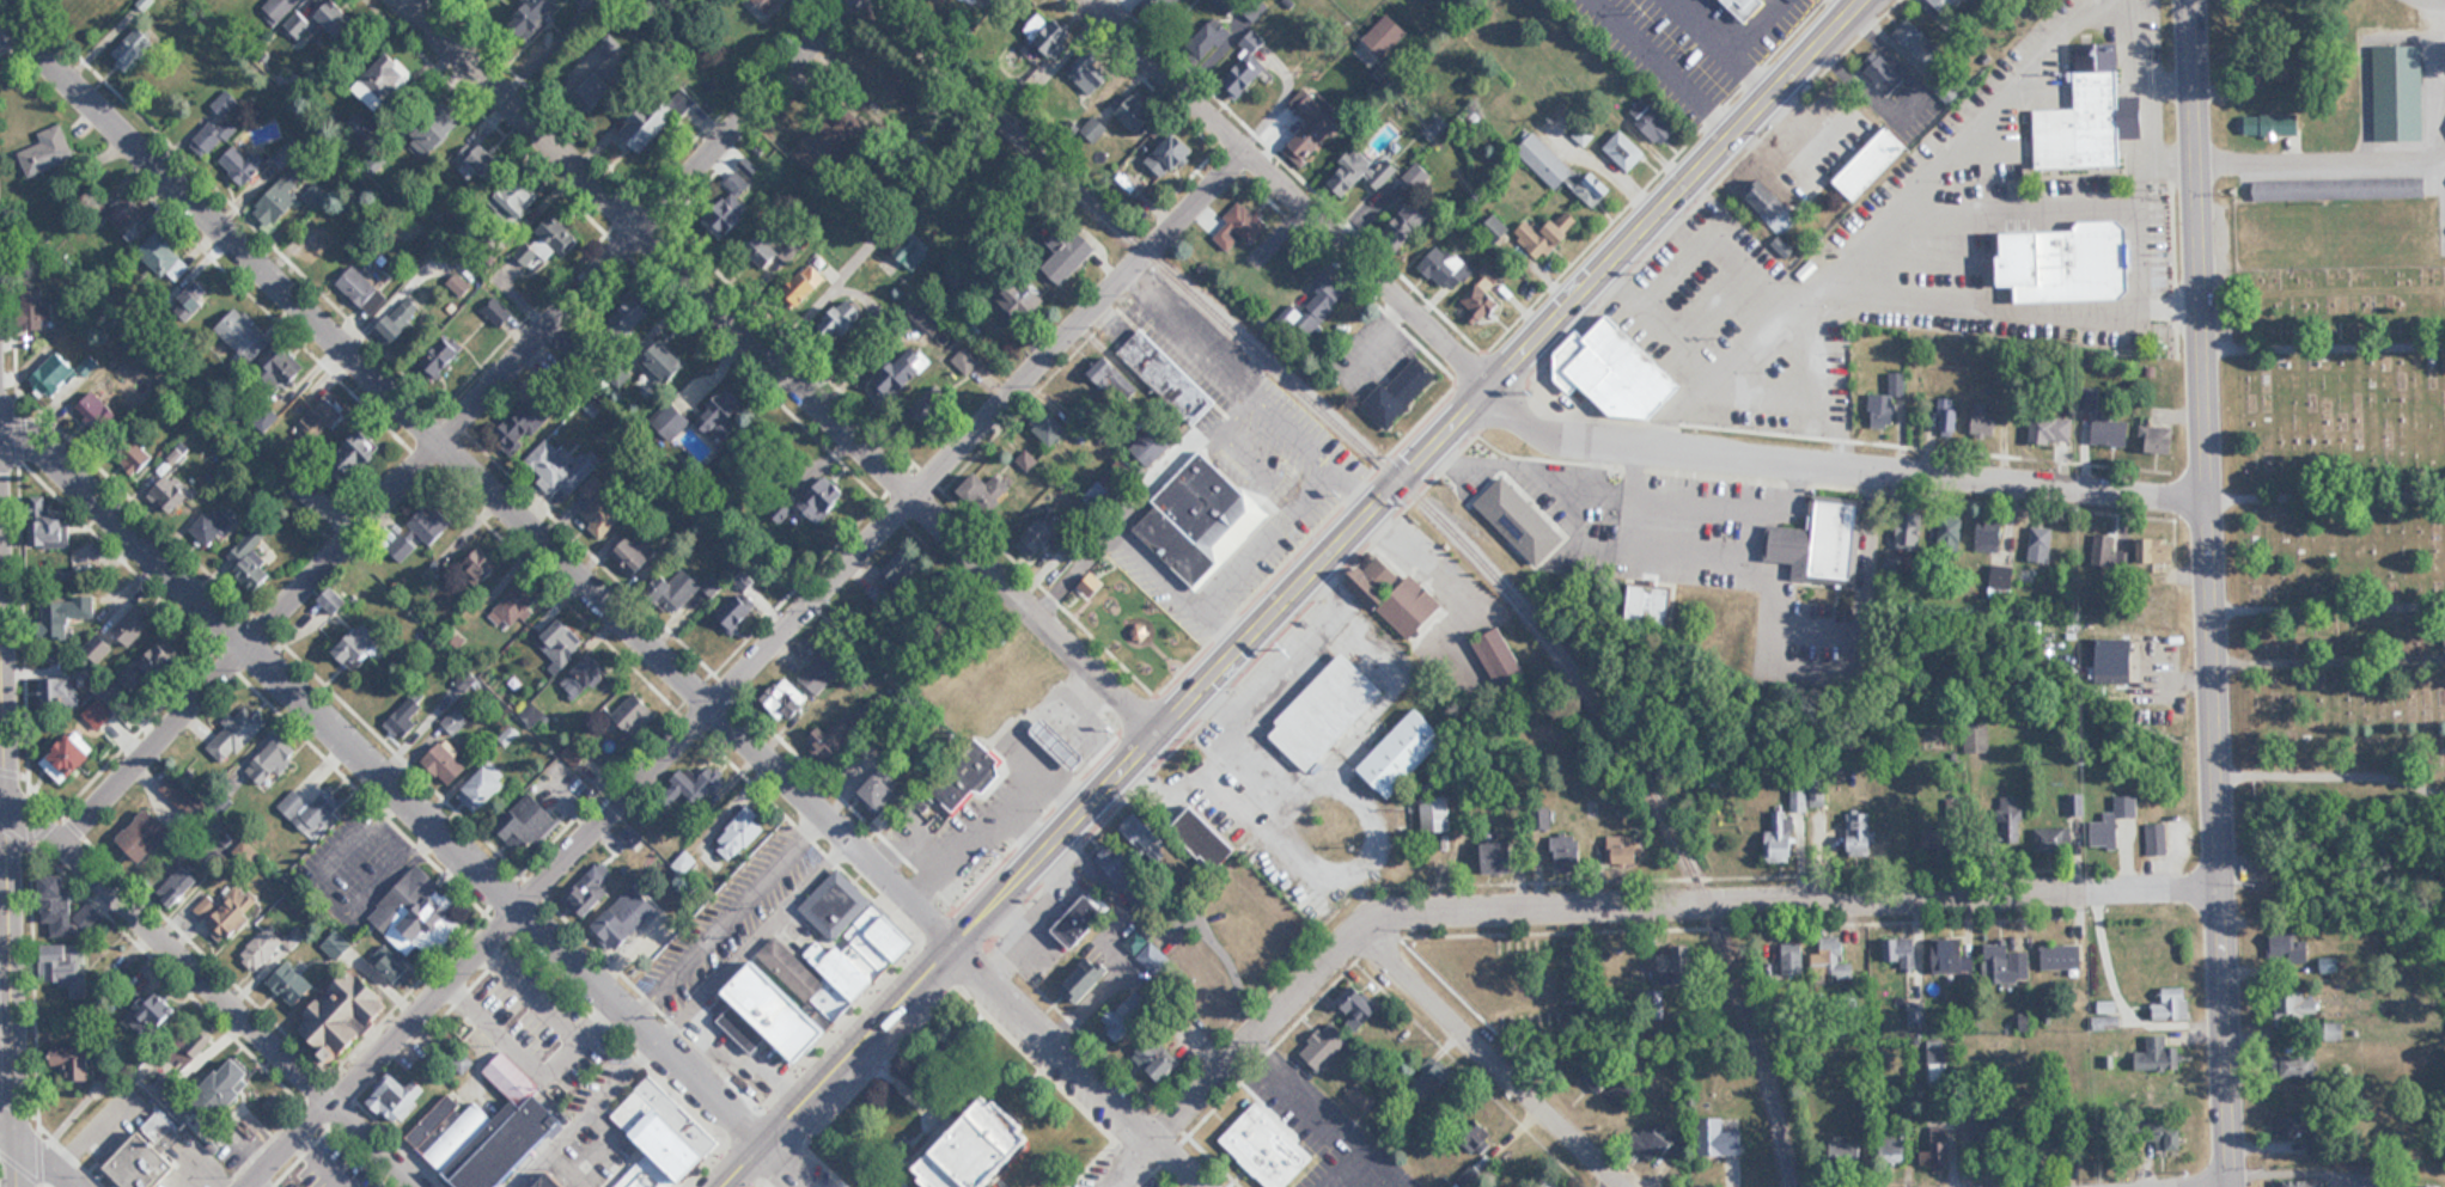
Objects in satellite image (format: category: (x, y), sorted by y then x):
building: (1724, 0)
building: (767, 4)
building: (1945, 5)
building: (1159, 6)
building: (280, 7)
building: (538, 12)
building: (337, 19)
building: (294, 23)
building: (1386, 33)
building: (1055, 36)
building: (1914, 37)
building: (1209, 41)
building: (134, 47)
building: (1249, 63)
building: (1091, 72)
building: (1886, 74)
building: (390, 75)
building: (598, 87)
building: (898, 90)
building: (1139, 112)
building: (2090, 115)
building: (1652, 121)
building: (437, 123)
building: (1311, 124)
building: (2272, 124)
building: (218, 126)
building: (647, 128)
building: (1095, 128)
building: (49, 151)
building: (1624, 151)
road: (2318, 151)
building: (1170, 154)
building: (477, 159)
building: (244, 164)
building: (1871, 165)
building: (1562, 171)
building: (1359, 175)
building: (1127, 184)
road: (1297, 189)
building: (2340, 189)
road: (1664, 192)
building: (522, 196)
building: (1767, 201)
building: (278, 203)
building: (731, 206)
building: (130, 216)
building: (1408, 222)
building: (1239, 225)
building: (559, 233)
building: (1544, 237)
building: (763, 250)
building: (910, 251)
building: (1067, 252)
building: (165, 258)
building: (2068, 263)
building: (1285, 267)
building: (1446, 267)
building: (958, 275)
building: (804, 284)
building: (362, 289)
building: (1482, 298)
road: (1922, 298)
building: (202, 299)
park: (2330, 302)
building: (1035, 304)
building: (1319, 305)
building: (37, 310)
building: (629, 310)
building: (845, 319)
building: (398, 322)
building: (243, 335)
road: (2323, 335)
building: (444, 355)
building: (285, 365)
building: (666, 365)
road: (779, 366)
building: (1616, 371)
building: (1104, 372)
building: (904, 373)
building: (50, 374)
building: (1166, 375)
building: (1402, 392)
road: (1244, 394)
building: (1886, 402)
building: (94, 411)
building: (724, 415)
building: (1949, 418)
building: (1983, 418)
building: (324, 420)
road: (452, 421)
road: (1291, 421)
building: (524, 423)
building: (2053, 428)
building: (1059, 429)
building: (2110, 430)
building: (2158, 439)
building: (1152, 445)
building: (359, 454)
building: (134, 458)
road: (1836, 465)
building: (563, 471)
building: (1121, 478)
road: (478, 481)
road: (2325, 488)
building: (986, 491)
building: (310, 494)
building: (167, 496)
building: (822, 504)
building: (600, 516)
building: (1201, 519)
building: (1522, 520)
road: (1268, 521)
railway: (1439, 522)
building: (431, 524)
building: (211, 525)
building: (49, 531)
building: (1909, 532)
building: (1045, 536)
building: (1950, 537)
building: (1990, 537)
building: (1819, 544)
building: (2041, 544)
building: (403, 547)
building: (2159, 550)
building: (2103, 552)
building: (636, 557)
building: (249, 559)
building: (481, 564)
road: (1165, 564)
building: (2001, 581)
building: (895, 582)
building: (685, 588)
road: (2327, 592)
road: (2208, 593)
building: (1396, 598)
building: (334, 600)
park: (2339, 601)
building: (518, 602)
building: (1651, 604)
building: (738, 611)
building: (66, 613)
building: (133, 625)
park: (1123, 629)
building: (459, 632)
building: (560, 642)
building: (360, 645)
road: (2329, 649)
building: (1500, 657)
building: (2116, 660)
road: (750, 663)
building: (153, 666)
building: (821, 673)
building: (583, 675)
building: (785, 699)
building: (108, 704)
building: (1327, 712)
building: (635, 714)
building: (536, 718)
building: (846, 729)
building: (236, 733)
building: (1059, 742)
building: (1402, 752)
building: (73, 755)
building: (272, 759)
building: (445, 763)
road: (2333, 770)
road: (383, 777)
building: (965, 778)
building: (699, 785)
road: (1103, 785)
building: (483, 789)
building: (879, 790)
building: (182, 794)
building: (1799, 799)
building: (2010, 806)
building: (310, 809)
building: (1952, 812)
building: (1435, 815)
building: (2114, 821)
building: (533, 824)
building: (742, 832)
building: (1141, 834)
building: (1861, 834)
building: (145, 836)
road: (10, 837)
building: (1779, 838)
building: (1206, 839)
building: (1939, 839)
building: (2049, 839)
building: (2157, 839)
building: (1627, 850)
building: (1505, 855)
building: (1120, 864)
building: (177, 886)
building: (590, 891)
road: (1606, 905)
building: (65, 910)
building: (227, 912)
building: (419, 914)
building: (627, 917)
building: (1081, 918)
building: (1136, 941)
building: (268, 947)
building: (2285, 952)
building: (1901, 953)
building: (1792, 956)
building: (1830, 956)
building: (2061, 956)
building: (1951, 957)
building: (2006, 965)
building: (391, 966)
building: (63, 968)
building: (817, 973)
building: (1086, 978)
building: (291, 983)
road: (213, 985)
building: (2173, 1005)
building: (1358, 1006)
building: (1128, 1014)
building: (152, 1016)
building: (345, 1016)
building: (1329, 1034)
building: (2157, 1051)
building: (1156, 1058)
road: (1494, 1058)
building: (462, 1061)
building: (71, 1063)
road: (1075, 1065)
building: (2297, 1066)
building: (178, 1073)
building: (1595, 1078)
building: (1433, 1081)
building: (226, 1087)
building: (1362, 1096)
building: (395, 1099)
building: (667, 1130)
building: (489, 1131)
building: (2304, 1131)
building: (2165, 1136)
building: (1658, 1138)
building: (1720, 1139)
building: (1895, 1143)
building: (976, 1148)
building: (1268, 1149)
building: (1939, 1149)
building: (1855, 1151)
road: (39, 1152)
building: (142, 1156)
road: (786, 1165)
building: (647, 1176)
building: (1469, 1177)
building: (557, 1182)
building: (1551, 1183)
building: (2300, 1183)
building: (2431, 1186)

